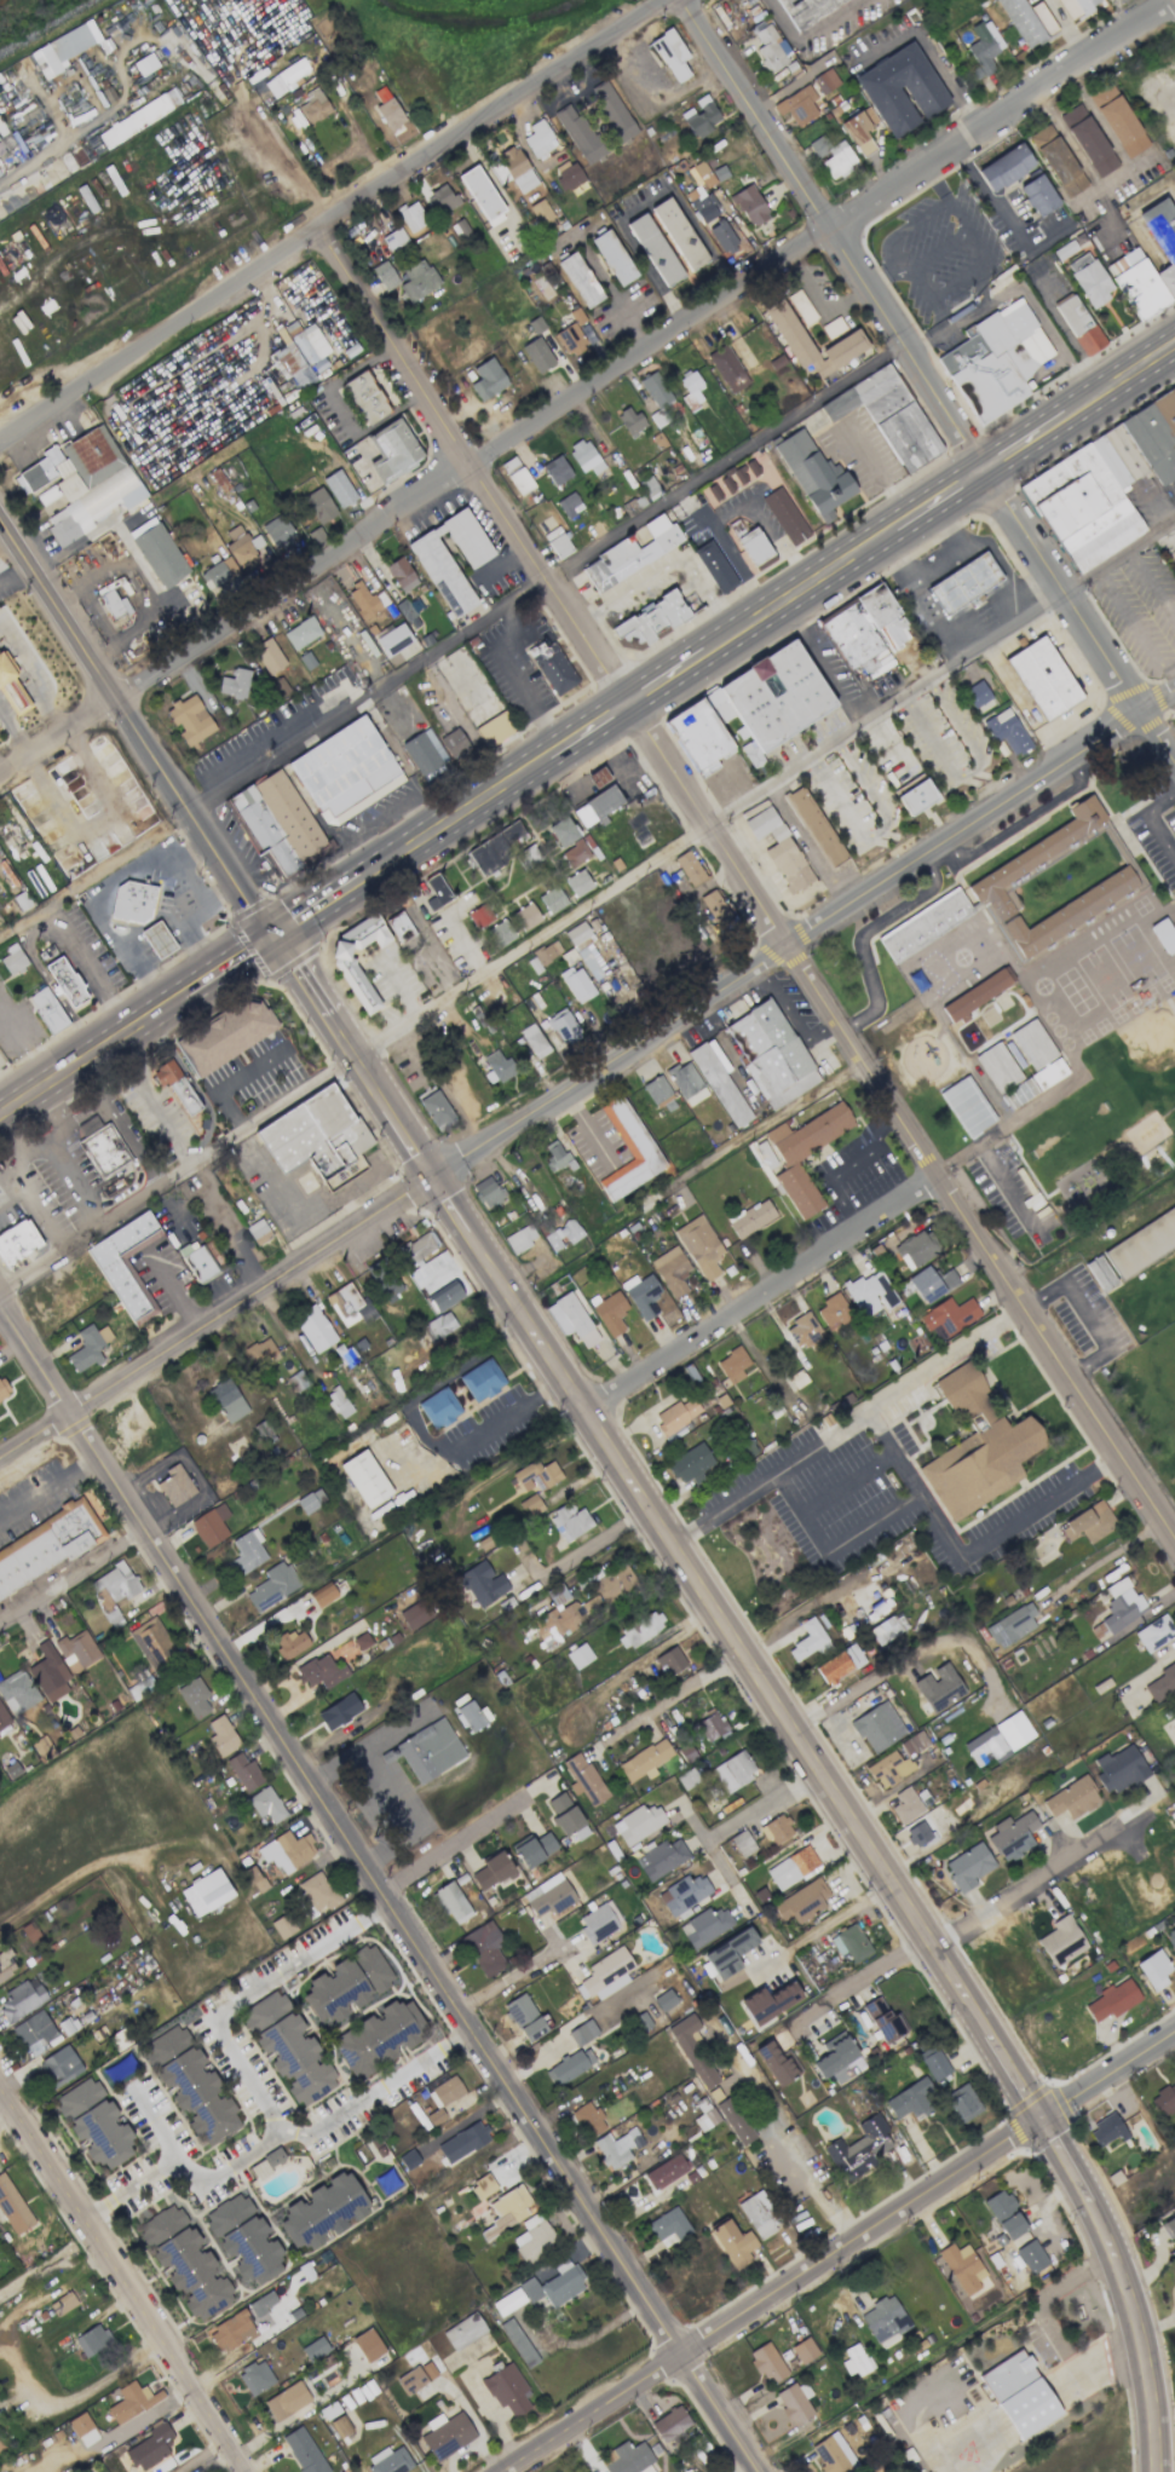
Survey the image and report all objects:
building: (1077, 6)
building: (805, 10)
building: (1026, 21)
road: (817, 38)
road: (921, 41)
building: (983, 47)
building: (63, 48)
building: (770, 52)
building: (670, 53)
building: (144, 64)
building: (282, 80)
building: (824, 80)
building: (900, 90)
building: (313, 105)
building: (796, 105)
building: (387, 108)
building: (612, 111)
road: (1101, 115)
building: (699, 116)
building: (138, 117)
building: (1117, 119)
building: (859, 129)
building: (577, 133)
building: (538, 138)
building: (1088, 139)
building: (2, 146)
road: (41, 155)
building: (831, 155)
building: (1056, 160)
road: (1087, 162)
building: (1004, 167)
building: (515, 168)
building: (0, 177)
building: (569, 177)
road: (1087, 192)
building: (482, 195)
road: (991, 195)
building: (1038, 195)
building: (440, 200)
building: (702, 203)
building: (749, 206)
building: (542, 214)
road: (1112, 214)
building: (411, 215)
road: (334, 219)
road: (894, 226)
building: (460, 229)
building: (679, 232)
building: (722, 235)
building: (393, 238)
building: (1162, 238)
building: (653, 248)
building: (1062, 250)
building: (612, 257)
road: (871, 264)
road: (955, 275)
building: (407, 278)
building: (1089, 278)
building: (578, 280)
building: (1136, 283)
building: (1078, 324)
building: (574, 334)
building: (793, 336)
building: (300, 353)
building: (537, 355)
building: (996, 359)
building: (727, 368)
building: (486, 379)
road: (586, 384)
road: (1121, 384)
road: (926, 385)
building: (690, 388)
building: (364, 397)
building: (658, 398)
building: (629, 420)
building: (916, 434)
road: (1025, 445)
building: (897, 446)
building: (393, 450)
building: (584, 456)
building: (555, 469)
building: (517, 476)
building: (810, 479)
building: (1102, 482)
building: (80, 483)
building: (649, 486)
building: (338, 488)
road: (1154, 500)
road: (934, 503)
building: (318, 505)
building: (569, 505)
building: (784, 515)
building: (277, 532)
building: (558, 541)
building: (756, 549)
building: (243, 551)
building: (630, 553)
building: (1174, 554)
building: (160, 555)
building: (434, 561)
road: (1003, 563)
road: (12, 565)
building: (710, 571)
building: (218, 574)
building: (401, 574)
road: (545, 577)
road: (1153, 583)
building: (961, 588)
gas station: (961, 588)
road: (791, 595)
building: (361, 599)
road: (922, 599)
building: (192, 600)
building: (114, 604)
road: (1129, 624)
building: (645, 627)
building: (865, 629)
building: (301, 633)
building: (392, 640)
building: (269, 656)
road: (828, 659)
building: (548, 670)
road: (662, 680)
building: (234, 682)
road: (520, 684)
building: (1039, 684)
building: (10, 688)
building: (977, 693)
building: (776, 695)
building: (189, 718)
road: (133, 725)
building: (494, 728)
road: (581, 730)
building: (1007, 731)
building: (455, 744)
building: (419, 756)
road: (966, 764)
building: (342, 767)
building: (598, 777)
building: (915, 796)
building: (597, 805)
building: (356, 808)
road: (445, 817)
road: (1150, 819)
building: (814, 825)
road: (710, 826)
building: (563, 831)
building: (777, 845)
building: (494, 847)
building: (575, 853)
building: (526, 857)
building: (277, 862)
building: (1029, 862)
building: (689, 866)
road: (96, 876)
building: (577, 882)
building: (436, 891)
building: (552, 899)
road: (184, 901)
building: (134, 903)
road: (311, 903)
road: (587, 905)
building: (714, 906)
building: (1071, 910)
building: (479, 915)
building: (525, 916)
building: (925, 924)
building: (399, 927)
traffic signals: (269, 930)
road: (800, 932)
building: (500, 933)
building: (1164, 934)
building: (159, 939)
gas station: (159, 939)
road: (246, 945)
building: (586, 950)
building: (546, 952)
building: (568, 956)
building: (12, 958)
road: (92, 964)
building: (353, 979)
building: (67, 981)
building: (577, 984)
building: (975, 995)
building: (46, 1009)
building: (561, 1026)
road: (28, 1033)
building: (225, 1035)
road: (335, 1036)
road: (111, 1037)
building: (534, 1041)
building: (1032, 1044)
building: (770, 1054)
building: (499, 1065)
building: (997, 1066)
building: (686, 1082)
building: (1033, 1083)
building: (719, 1084)
building: (175, 1085)
building: (656, 1091)
building: (967, 1105)
building: (434, 1108)
road: (586, 1124)
road: (1007, 1129)
building: (313, 1134)
road: (742, 1140)
road: (31, 1145)
building: (628, 1149)
building: (105, 1152)
building: (555, 1154)
road: (416, 1159)
building: (790, 1163)
road: (264, 1164)
road: (842, 1164)
road: (206, 1175)
traffic signals: (428, 1176)
road: (15, 1191)
building: (488, 1192)
road: (1007, 1192)
building: (750, 1217)
building: (258, 1231)
building: (561, 1234)
building: (520, 1238)
building: (17, 1241)
building: (1142, 1244)
building: (699, 1246)
building: (416, 1247)
building: (915, 1249)
building: (125, 1262)
building: (197, 1262)
building: (670, 1269)
building: (1100, 1273)
building: (384, 1279)
building: (931, 1283)
road: (172, 1286)
building: (641, 1293)
building: (870, 1293)
road: (759, 1295)
building: (445, 1297)
building: (349, 1306)
building: (833, 1310)
building: (610, 1313)
road: (1085, 1314)
building: (948, 1318)
road: (215, 1319)
building: (571, 1319)
building: (439, 1326)
building: (313, 1329)
building: (802, 1331)
building: (87, 1347)
building: (260, 1350)
building: (732, 1364)
park: (1162, 1365)
building: (482, 1379)
building: (2, 1388)
road: (897, 1390)
building: (226, 1400)
building: (338, 1402)
building: (438, 1407)
building: (675, 1416)
road: (415, 1425)
building: (977, 1447)
building: (690, 1463)
building: (536, 1474)
building: (364, 1477)
parking lot: (835, 1483)
building: (174, 1485)
road: (48, 1488)
building: (310, 1500)
building: (530, 1505)
road: (889, 1520)
building: (569, 1521)
building: (1088, 1522)
building: (209, 1525)
road: (578, 1544)
building: (44, 1548)
building: (246, 1552)
road: (71, 1573)
building: (482, 1583)
building: (272, 1585)
building: (113, 1590)
building: (557, 1595)
building: (323, 1596)
building: (583, 1604)
building: (1121, 1604)
building: (414, 1614)
building: (1010, 1625)
building: (887, 1629)
building: (639, 1630)
building: (1154, 1632)
building: (151, 1640)
building: (361, 1640)
building: (807, 1640)
building: (290, 1642)
building: (76, 1650)
road: (905, 1654)
building: (578, 1655)
building: (669, 1661)
building: (839, 1664)
building: (321, 1671)
building: (48, 1672)
building: (1162, 1681)
building: (140, 1687)
road: (758, 1687)
building: (938, 1687)
building: (17, 1692)
road: (663, 1694)
building: (194, 1696)
building: (339, 1711)
building: (470, 1716)
building: (4, 1719)
building: (710, 1725)
building: (877, 1727)
building: (1013, 1729)
building: (221, 1735)
building: (914, 1742)
building: (41, 1746)
building: (985, 1746)
building: (684, 1747)
building: (427, 1750)
building: (644, 1759)
building: (889, 1768)
building: (1118, 1768)
building: (733, 1770)
building: (243, 1771)
building: (687, 1777)
building: (583, 1779)
building: (1071, 1798)
building: (265, 1804)
road: (410, 1805)
building: (905, 1805)
road: (747, 1807)
building: (565, 1815)
building: (638, 1822)
building: (774, 1828)
building: (918, 1833)
building: (1012, 1836)
building: (742, 1843)
road: (453, 1846)
building: (534, 1848)
building: (287, 1850)
building: (661, 1857)
building: (968, 1866)
building: (791, 1867)
building: (491, 1871)
building: (254, 1878)
road: (378, 1888)
road: (1025, 1890)
building: (317, 1891)
building: (206, 1892)
building: (682, 1894)
building: (548, 1895)
building: (802, 1901)
building: (451, 1902)
building: (597, 1923)
building: (282, 1925)
building: (704, 1925)
road: (823, 1926)
building: (29, 1931)
building: (1170, 1937)
building: (1061, 1941)
building: (849, 1942)
building: (484, 1947)
building: (728, 1953)
building: (6, 1964)
building: (1153, 1969)
building: (605, 1973)
road: (511, 1977)
road: (854, 1981)
building: (346, 1983)
building: (21, 1999)
building: (664, 1999)
building: (1112, 2000)
building: (768, 2001)
building: (524, 2017)
building: (882, 2019)
building: (582, 2032)
building: (35, 2033)
road: (221, 2036)
building: (378, 2036)
building: (288, 2047)
building: (693, 2050)
building: (837, 2058)
building: (776, 2063)
building: (934, 2064)
building: (58, 2067)
building: (566, 2067)
road: (373, 2082)
building: (190, 2085)
building: (445, 2091)
building: (911, 2099)
building: (1163, 2099)
building: (963, 2102)
traffic signals: (1037, 2115)
building: (434, 2116)
building: (709, 2116)
road: (6, 2117)
building: (588, 2119)
building: (735, 2120)
building: (93, 2122)
building: (1104, 2130)
road: (781, 2131)
building: (462, 2142)
building: (617, 2147)
building: (858, 2148)
road: (159, 2159)
building: (408, 2159)
building: (266, 2162)
building: (664, 2171)
building: (482, 2186)
building: (12, 2207)
building: (322, 2211)
building: (506, 2211)
building: (1004, 2214)
building: (756, 2215)
building: (668, 2226)
building: (1168, 2228)
building: (532, 2236)
building: (243, 2238)
building: (733, 2243)
road: (836, 2248)
building: (1031, 2257)
building: (184, 2261)
building: (961, 2266)
road: (121, 2282)
building: (543, 2289)
building: (62, 2303)
building: (263, 2303)
road: (18, 2313)
building: (883, 2317)
road: (1050, 2327)
building: (231, 2330)
building: (463, 2330)
road: (1137, 2330)
building: (92, 2339)
building: (518, 2343)
building: (367, 2344)
building: (315, 2349)
building: (804, 2350)
building: (854, 2359)
building: (767, 2363)
building: (254, 2376)
building: (415, 2378)
road: (92, 2387)
building: (507, 2389)
building: (1019, 2393)
building: (131, 2401)
building: (286, 2401)
building: (794, 2402)
road: (908, 2416)
road: (142, 2418)
building: (669, 2422)
building: (339, 2426)
building: (82, 2428)
building: (445, 2434)
building: (1, 2445)
building: (150, 2447)
building: (303, 2450)
building: (833, 2454)
road: (198, 2456)
building: (628, 2457)
building: (388, 2460)

